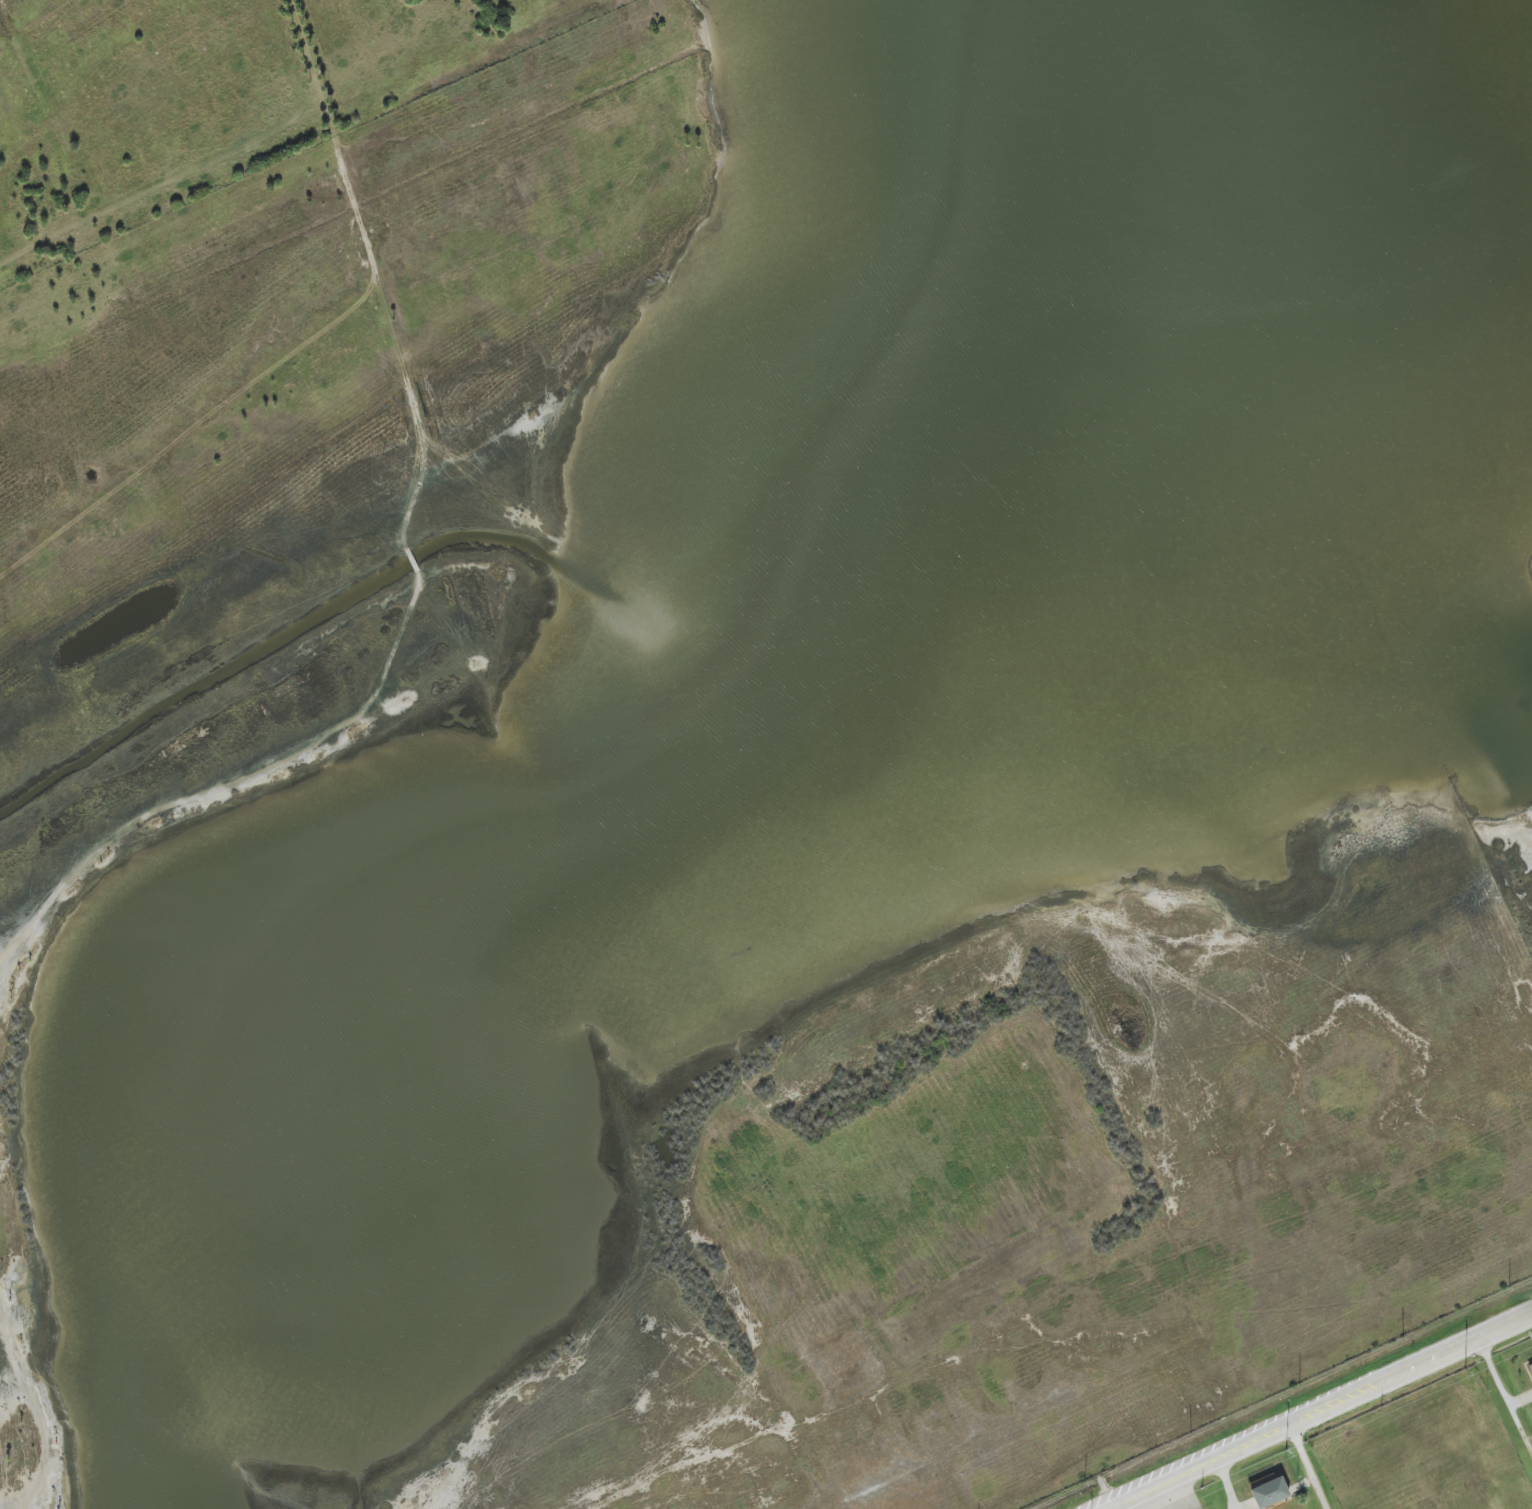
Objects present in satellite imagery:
building: (1529, 1369)
road: (1505, 1399)
road: (1322, 1414)
road: (1309, 1468)
building: (1269, 1493)

